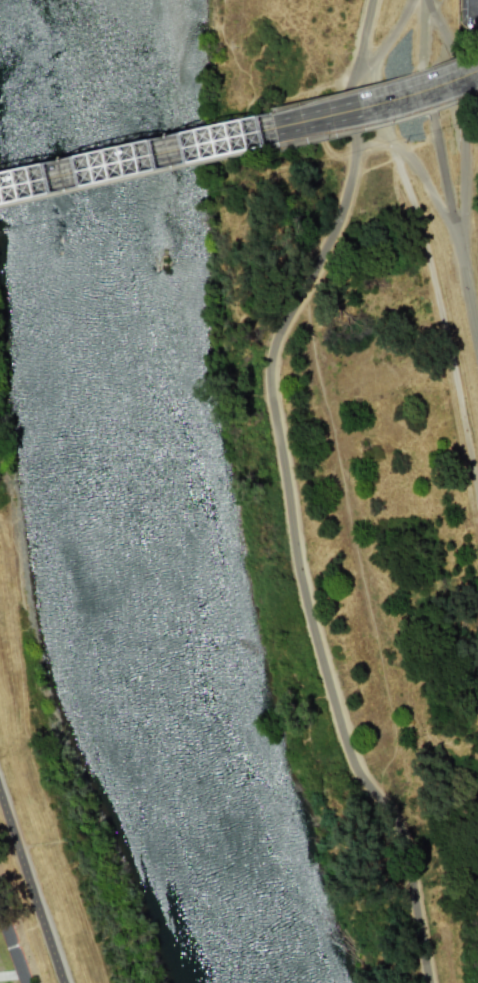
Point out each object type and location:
road: (474, 4)
road: (438, 27)
road: (423, 32)
road: (362, 34)
road: (390, 39)
road: (351, 79)
road: (391, 108)
road: (240, 151)
road: (151, 161)
road: (454, 225)
road: (452, 229)
road: (431, 274)
river: (159, 495)
road: (307, 559)
road: (33, 884)
road: (12, 948)
road: (11, 974)

